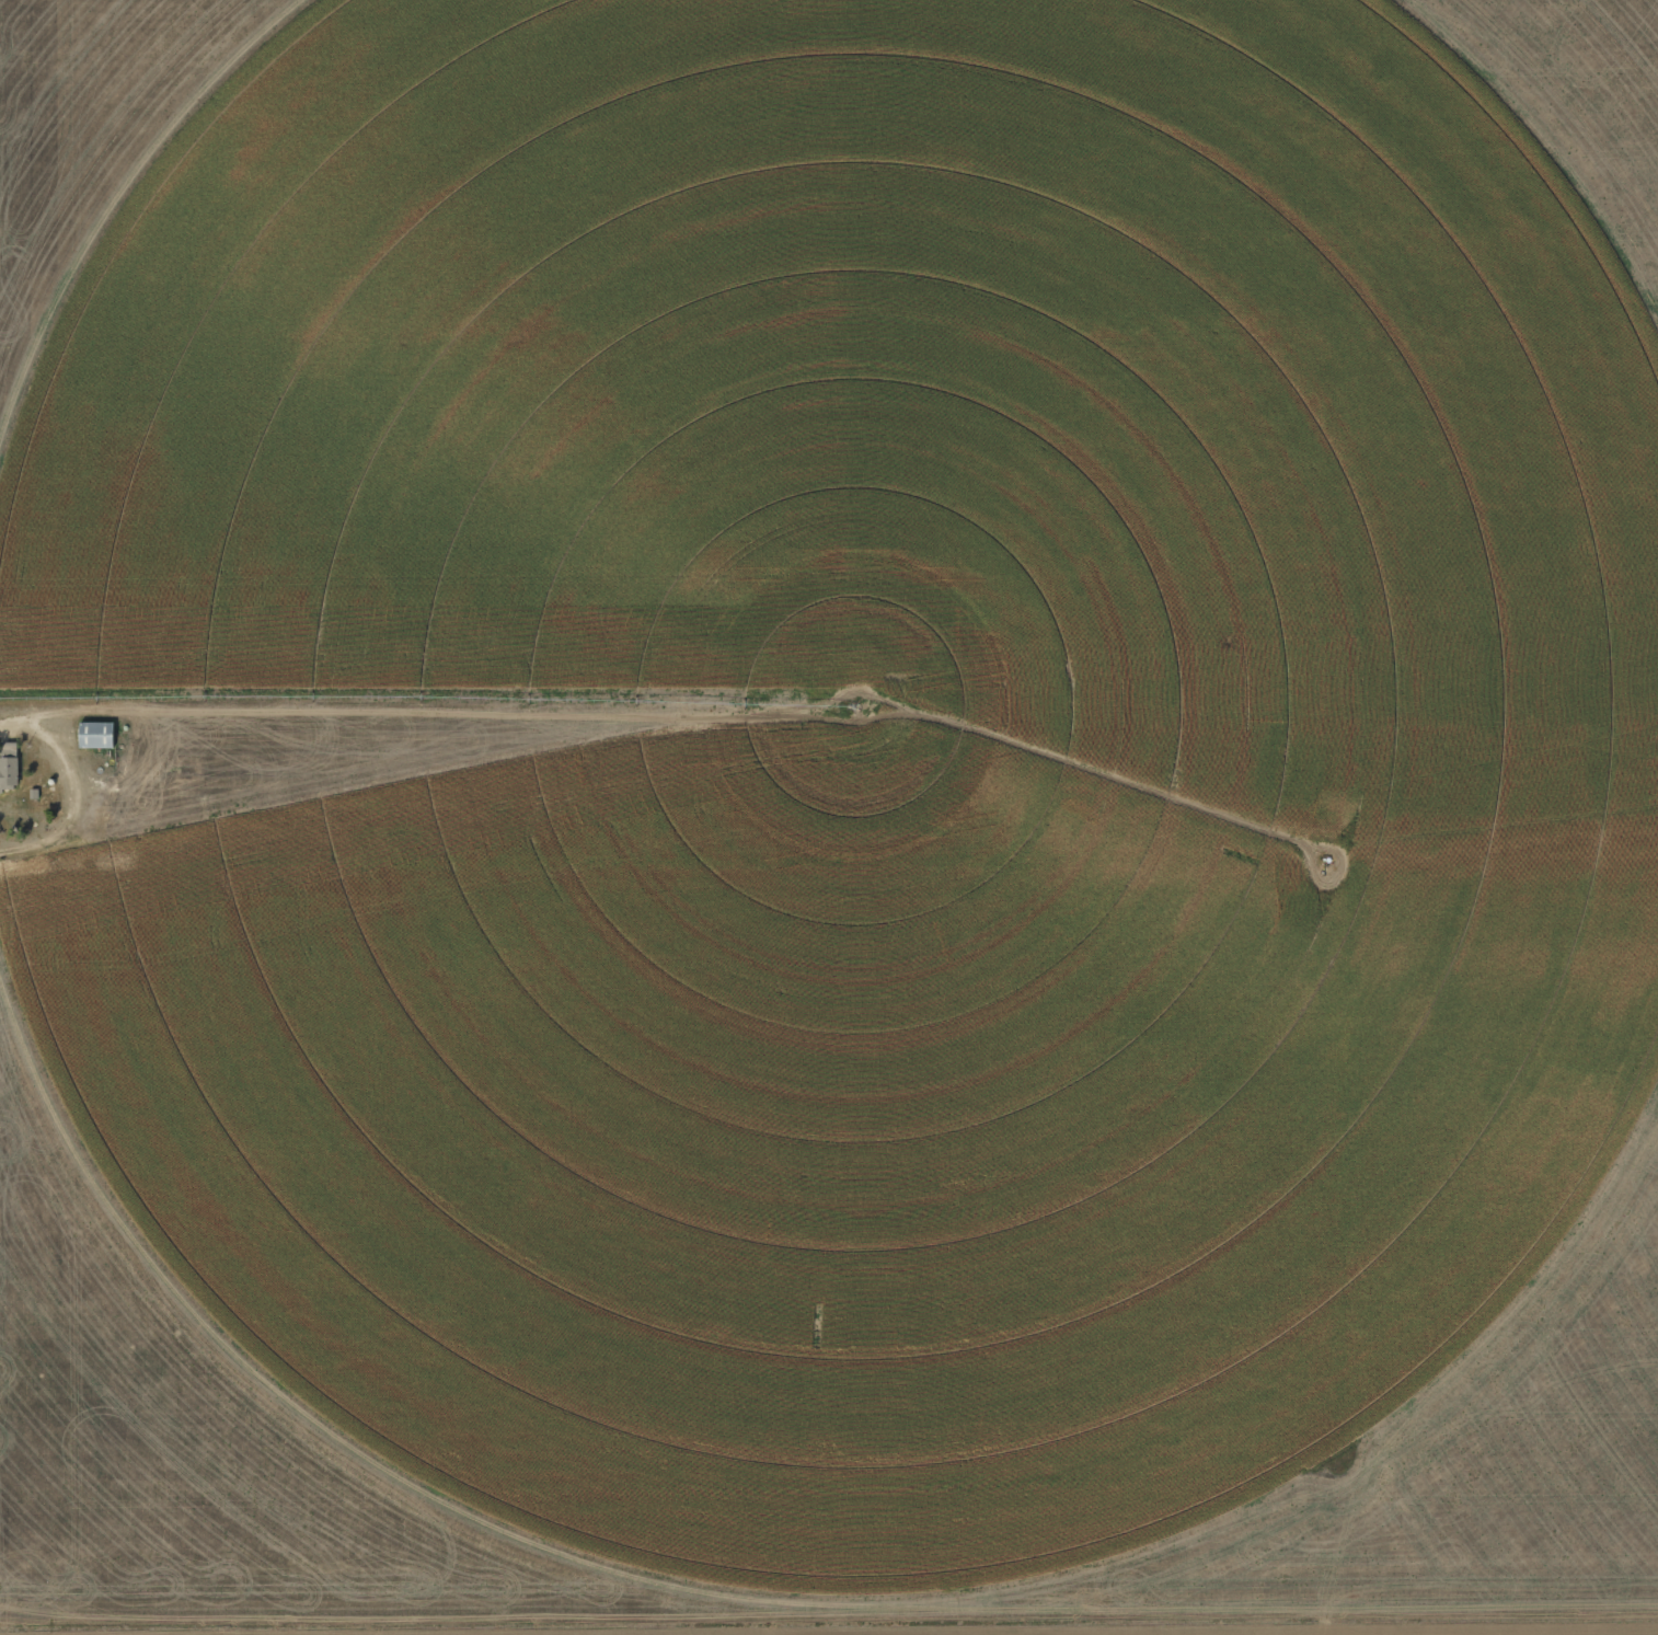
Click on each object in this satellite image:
building: (92, 734)
building: (7, 765)

